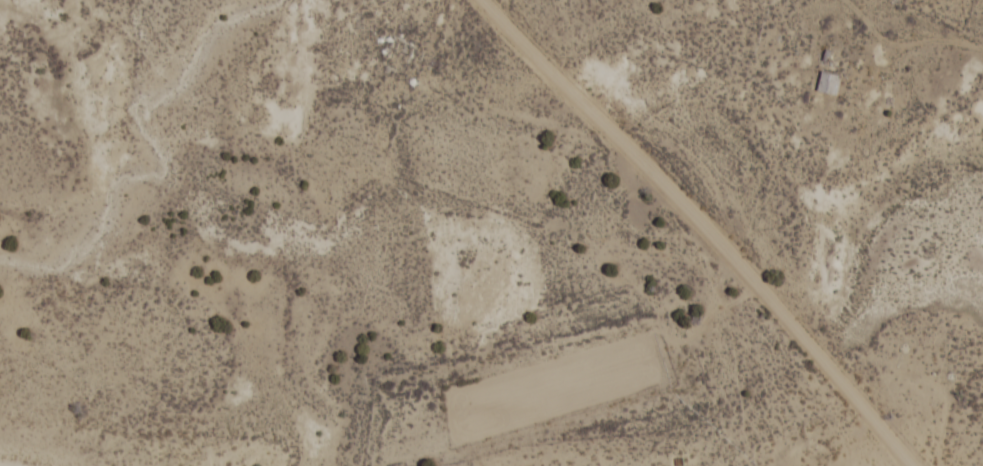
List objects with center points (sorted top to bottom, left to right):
building: (828, 84)
road: (703, 227)

